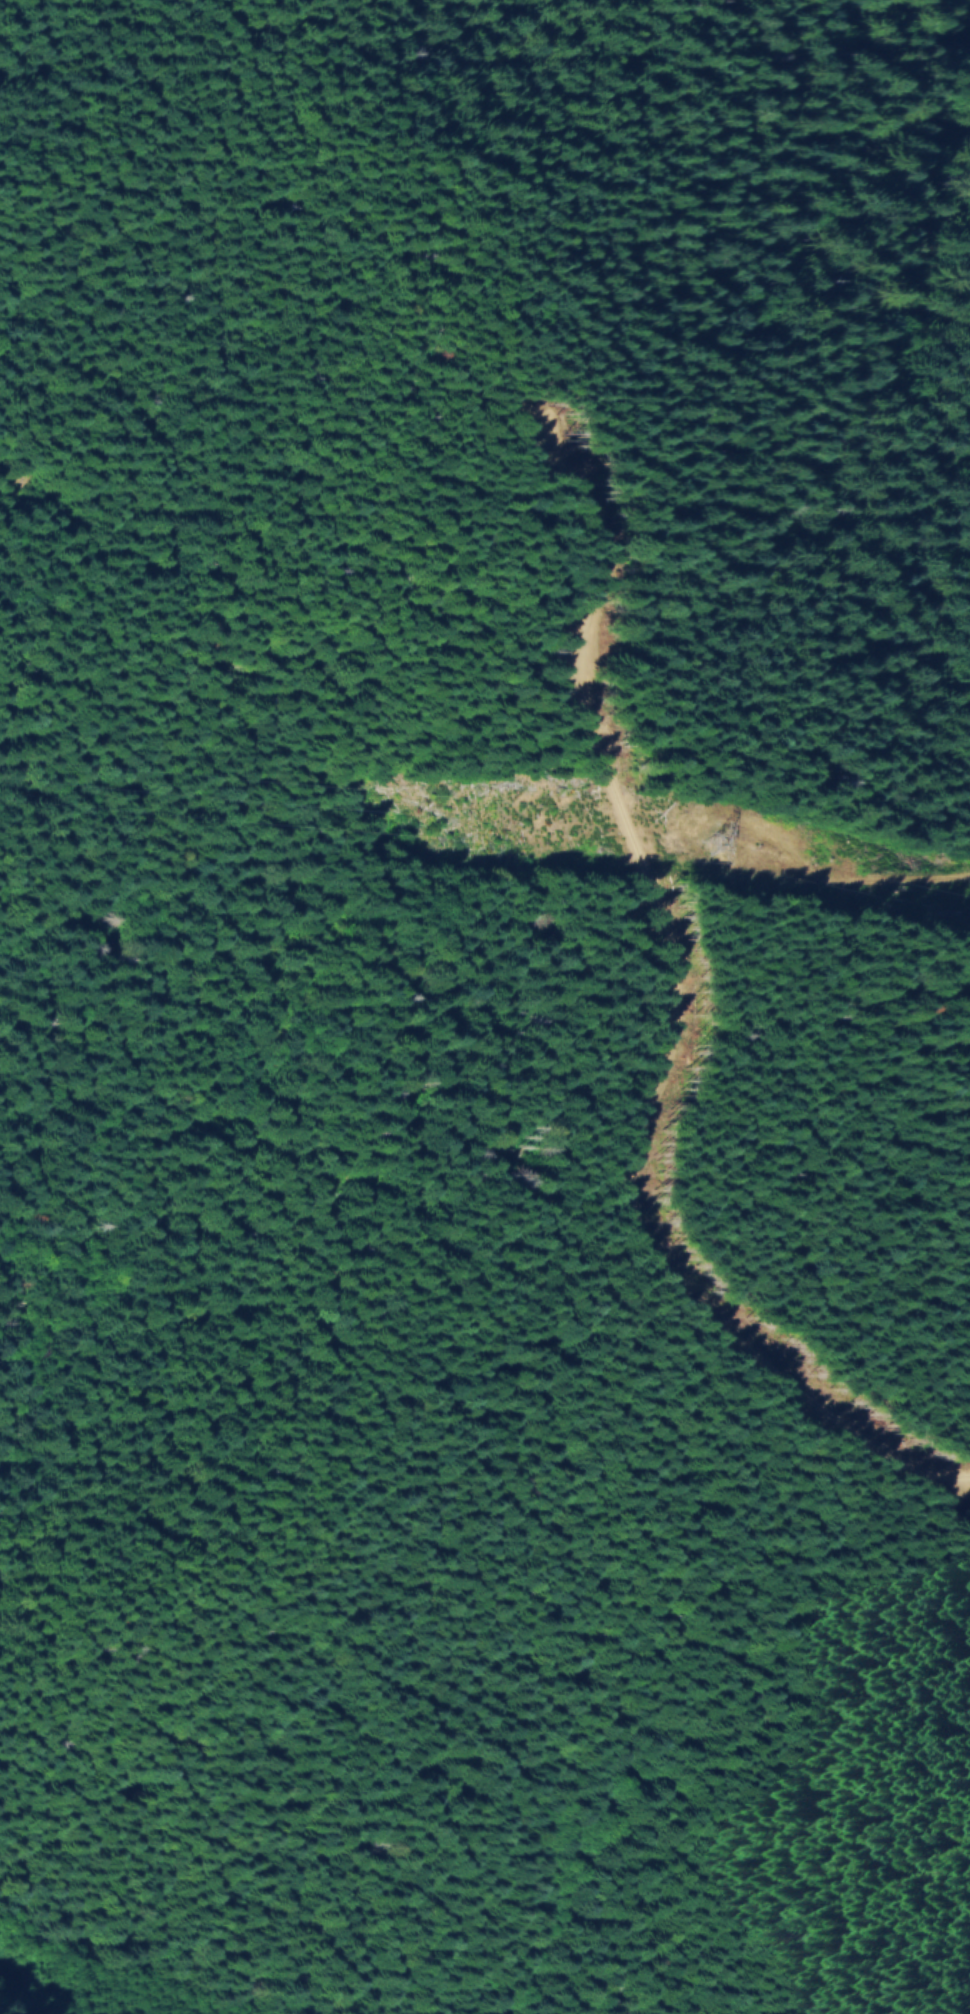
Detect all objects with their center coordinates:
power tower: (713, 844)
road: (912, 1078)

